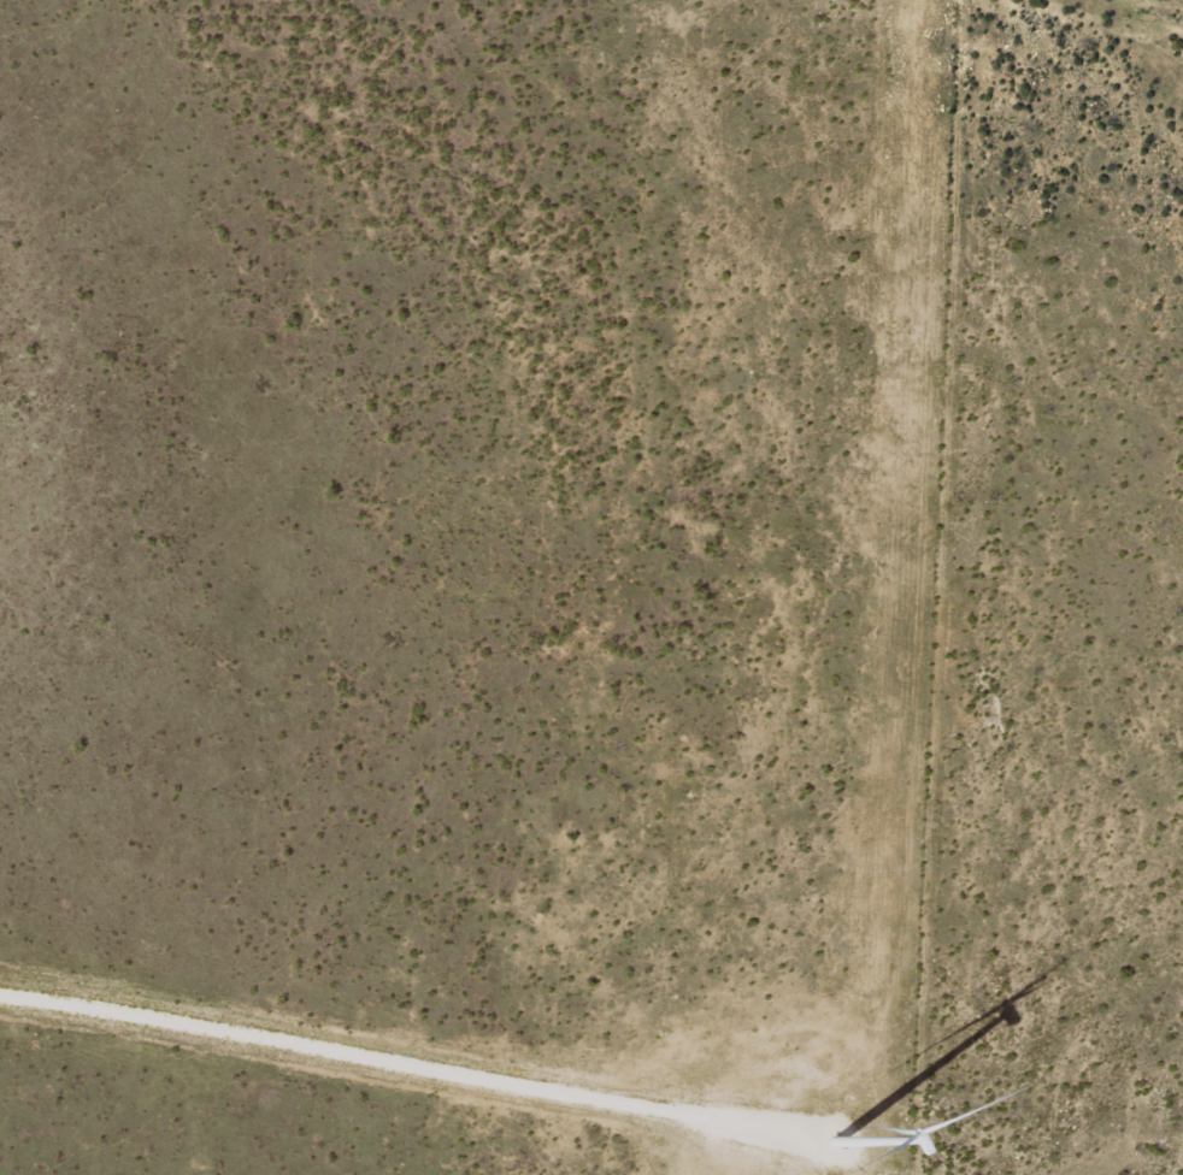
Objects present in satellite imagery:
wind turbine: (837, 1140)

